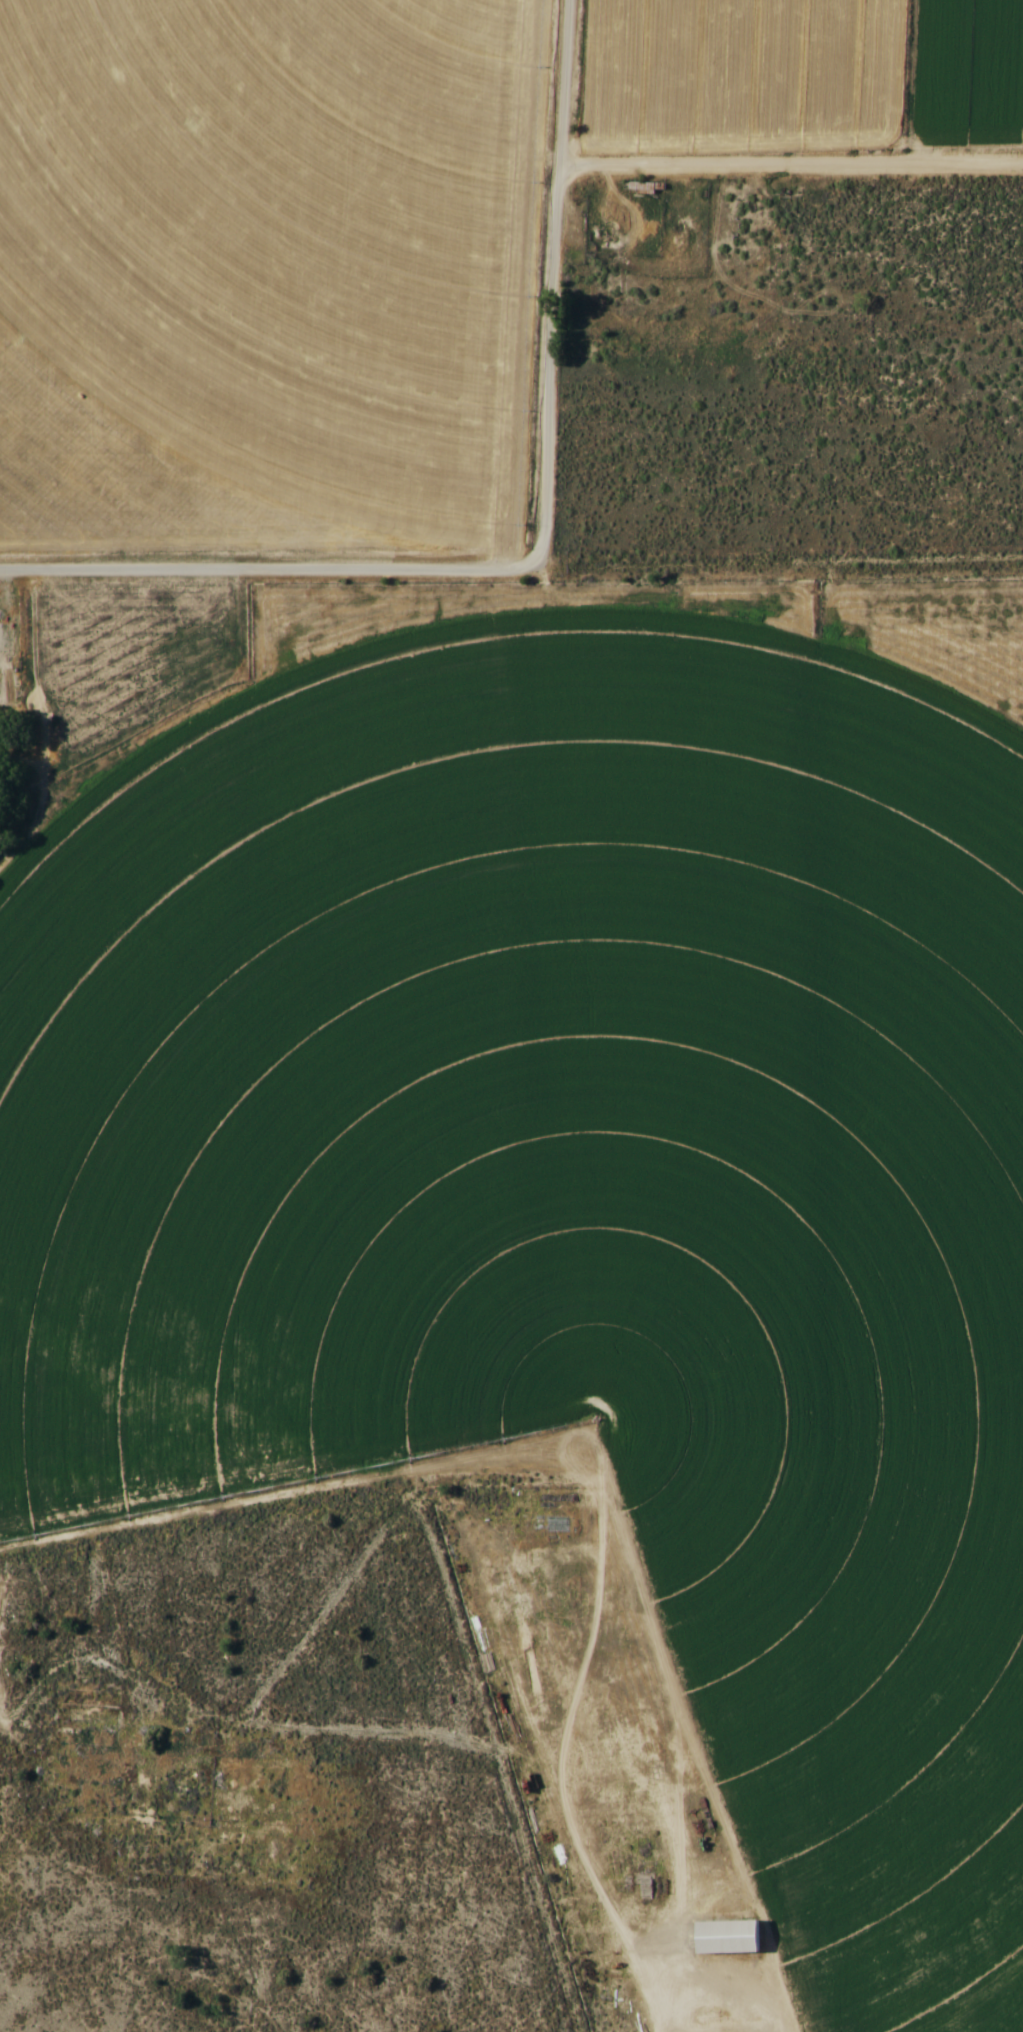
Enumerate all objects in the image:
building: (639, 185)
road: (550, 282)
road: (268, 571)
building: (559, 1854)
building: (726, 1936)

